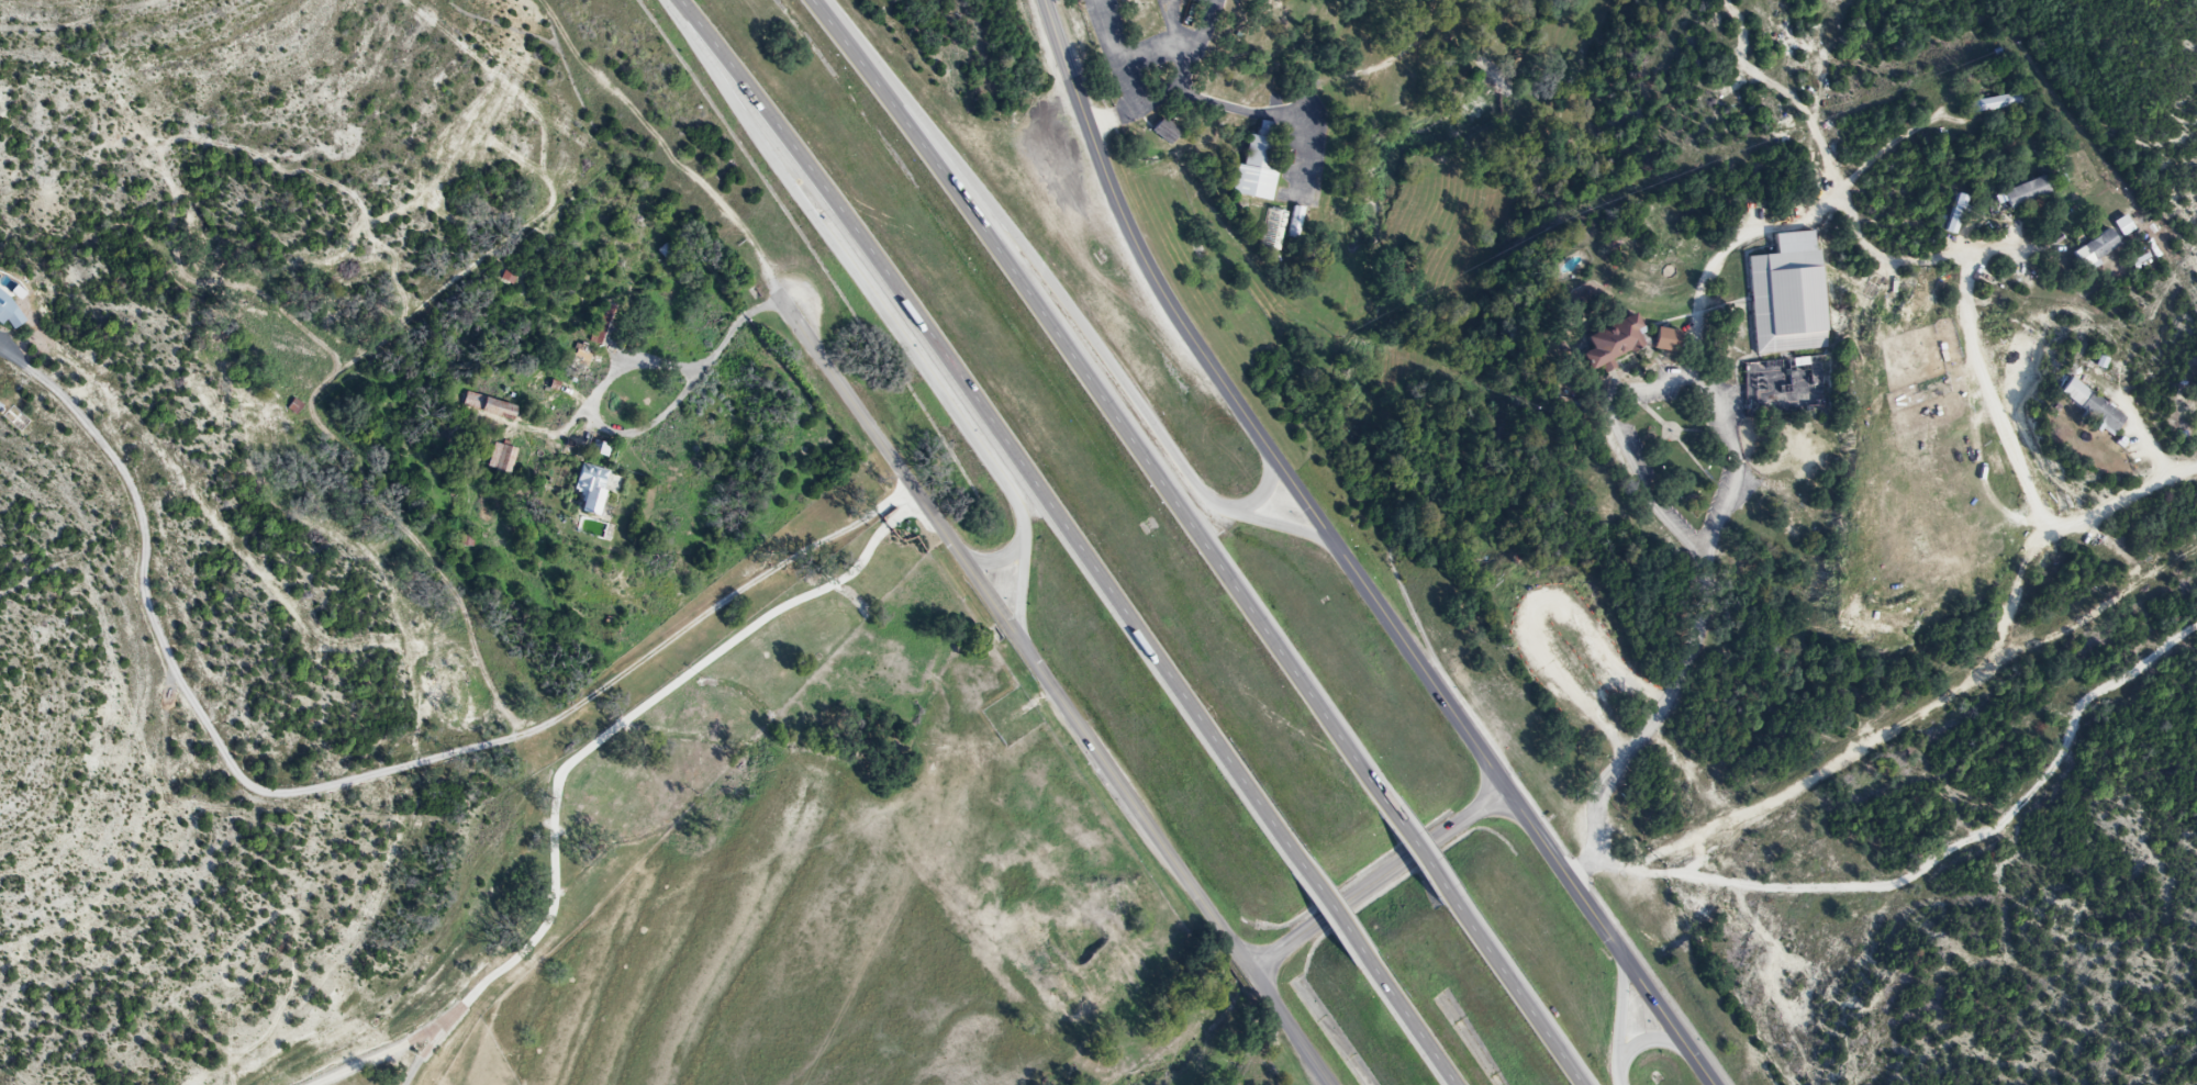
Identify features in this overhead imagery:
road: (1453, 38)
road: (698, 44)
road: (1393, 59)
road: (1495, 78)
road: (1309, 99)
building: (1997, 104)
road: (1239, 107)
building: (1270, 125)
building: (1170, 131)
parking lot: (1307, 148)
building: (1260, 170)
building: (2027, 194)
building: (1278, 228)
building: (2096, 250)
building: (1788, 297)
road: (882, 311)
road: (1075, 321)
building: (602, 326)
building: (1669, 342)
building: (1615, 345)
road: (1988, 396)
road: (1102, 398)
building: (490, 407)
building: (2092, 407)
road: (1240, 412)
road: (643, 435)
building: (601, 450)
building: (502, 461)
road: (896, 466)
road: (1025, 470)
building: (593, 490)
road: (1263, 493)
road: (2047, 539)
road: (999, 561)
road: (1022, 588)
road: (1702, 602)
road: (1885, 724)
road: (580, 769)
road: (359, 778)
road: (1136, 803)
road: (1420, 848)
road: (1564, 874)
road: (1379, 879)
road: (1332, 909)
road: (1521, 989)
road: (1409, 1019)
road: (1618, 1022)
road: (1670, 1022)
road: (1287, 1028)
road: (1644, 1040)

